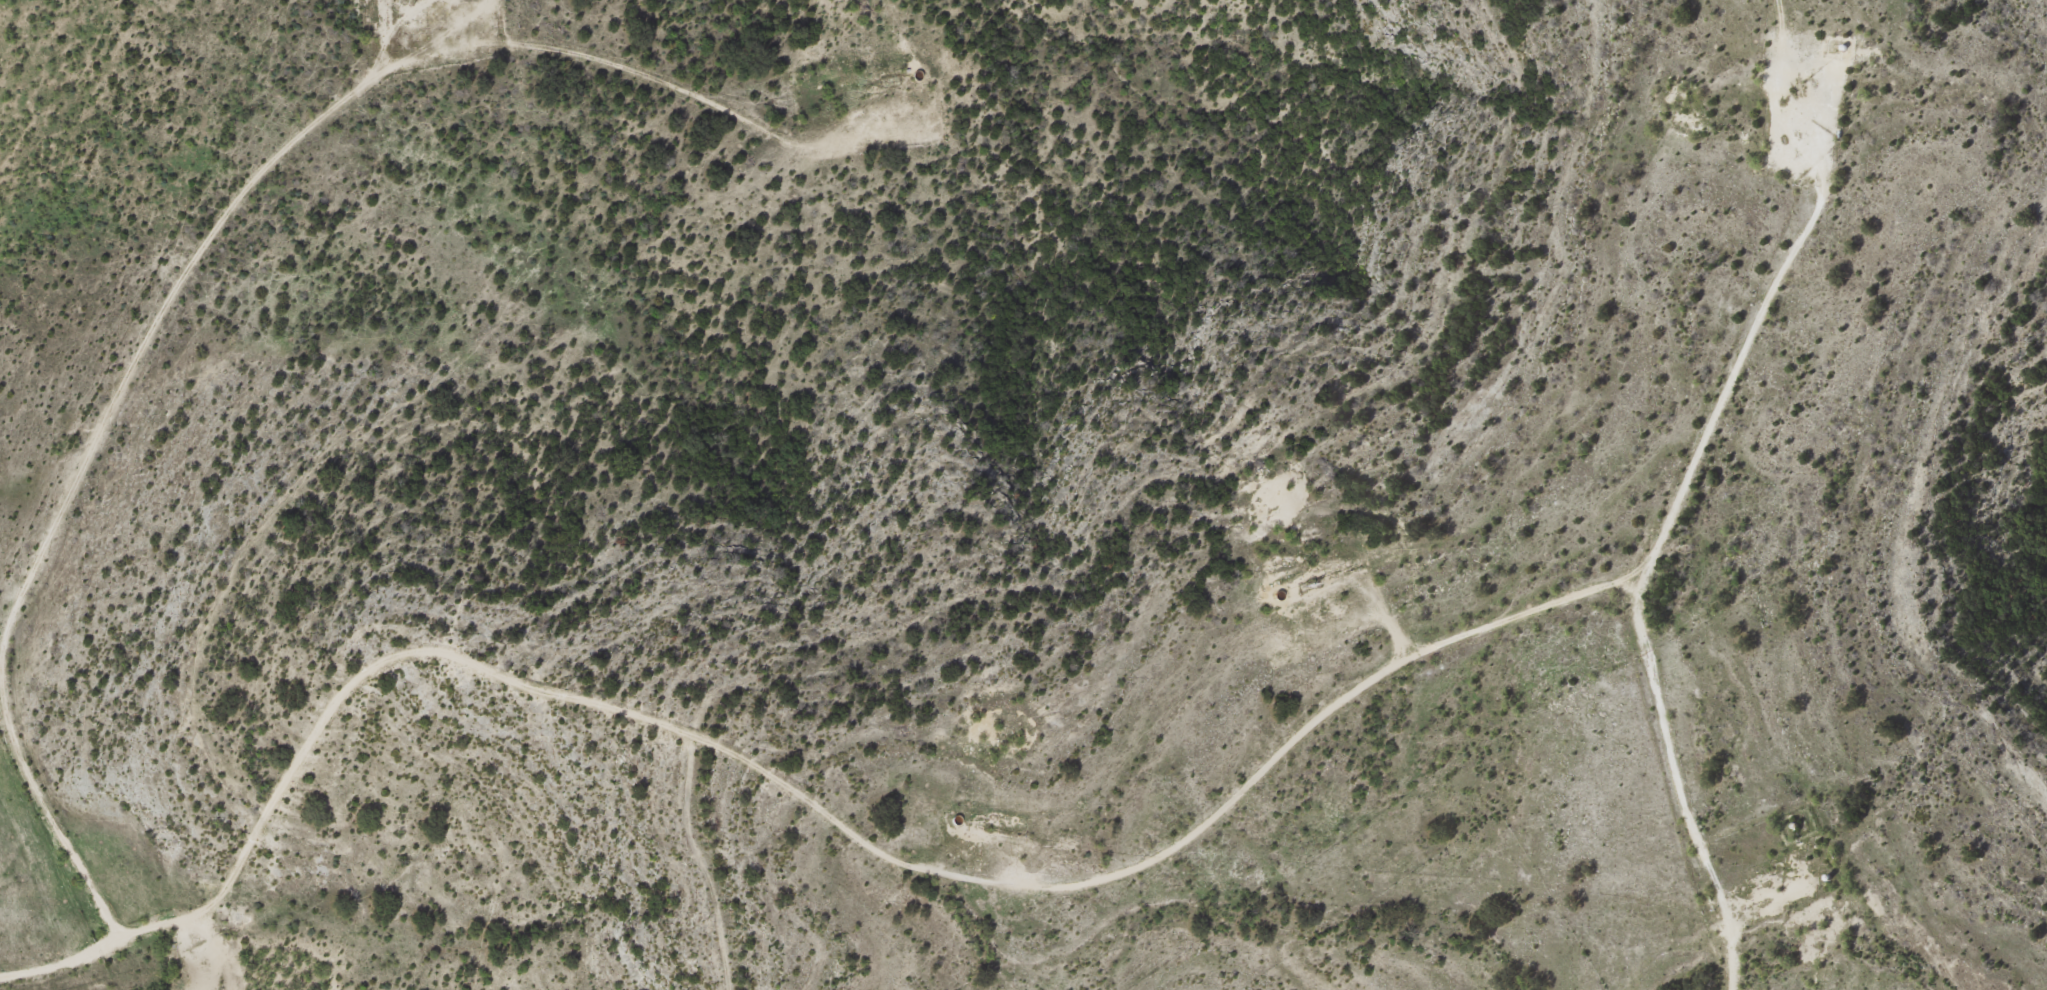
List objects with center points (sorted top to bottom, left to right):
road: (167, 287)
road: (482, 703)

